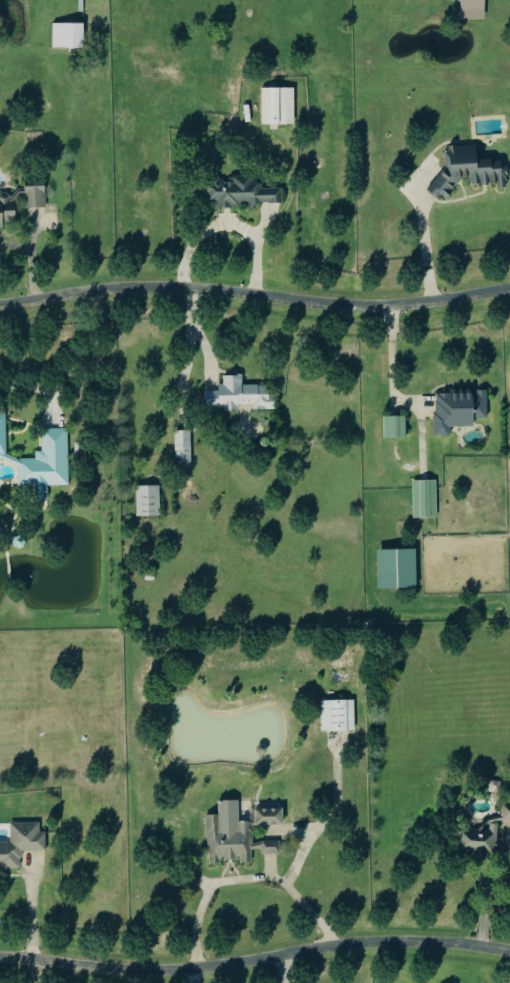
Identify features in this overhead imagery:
building: (472, 9)
building: (67, 35)
building: (277, 106)
building: (468, 169)
building: (243, 192)
building: (34, 193)
building: (8, 209)
road: (228, 224)
road: (418, 247)
road: (255, 293)
road: (192, 322)
road: (389, 363)
road: (89, 380)
building: (240, 395)
building: (459, 409)
building: (394, 427)
building: (183, 449)
building: (44, 459)
building: (424, 498)
building: (147, 501)
building: (396, 568)
building: (337, 716)
building: (484, 834)
building: (242, 837)
building: (22, 843)
road: (243, 882)
road: (488, 892)
road: (39, 923)
road: (255, 963)
road: (286, 970)
road: (191, 977)

